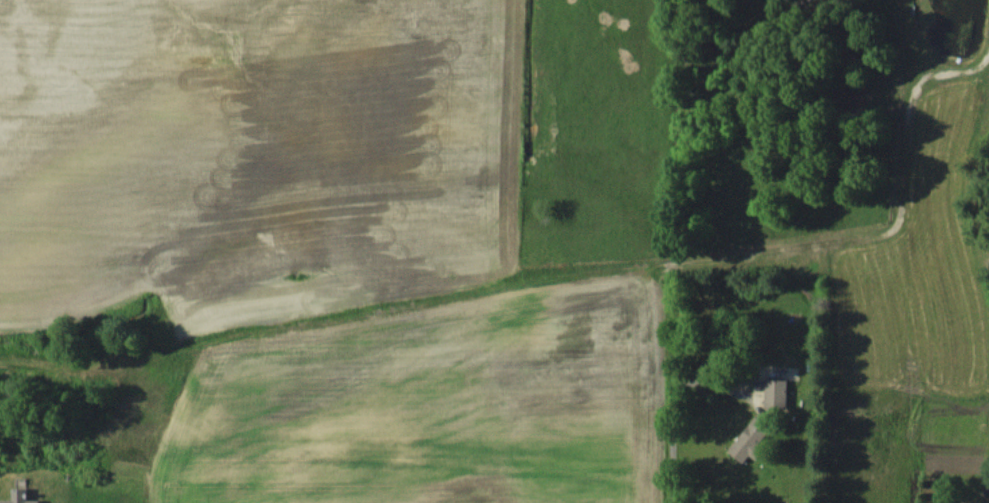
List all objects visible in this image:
building: (775, 393)
road: (672, 434)
building: (751, 438)
building: (19, 496)

